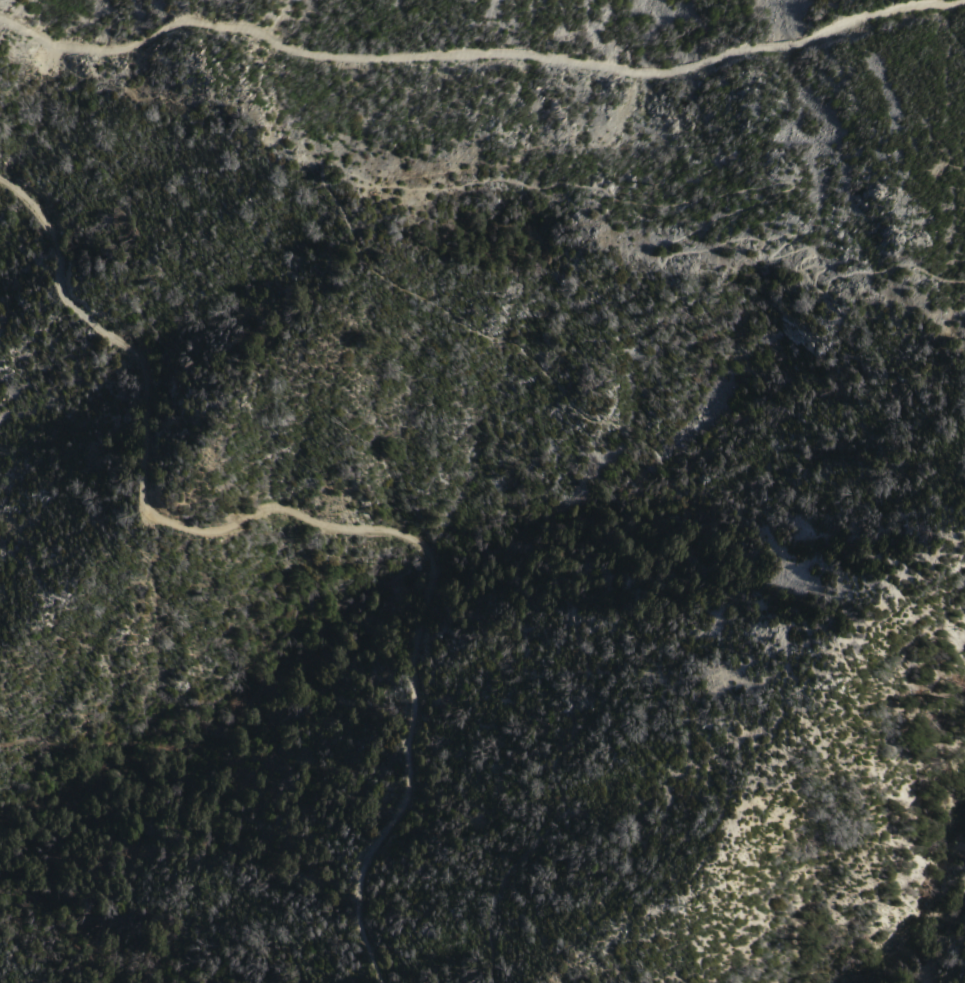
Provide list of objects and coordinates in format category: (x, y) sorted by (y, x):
road: (480, 53)
road: (754, 206)
road: (314, 519)
road: (662, 526)
road: (26, 741)
road: (146, 814)

